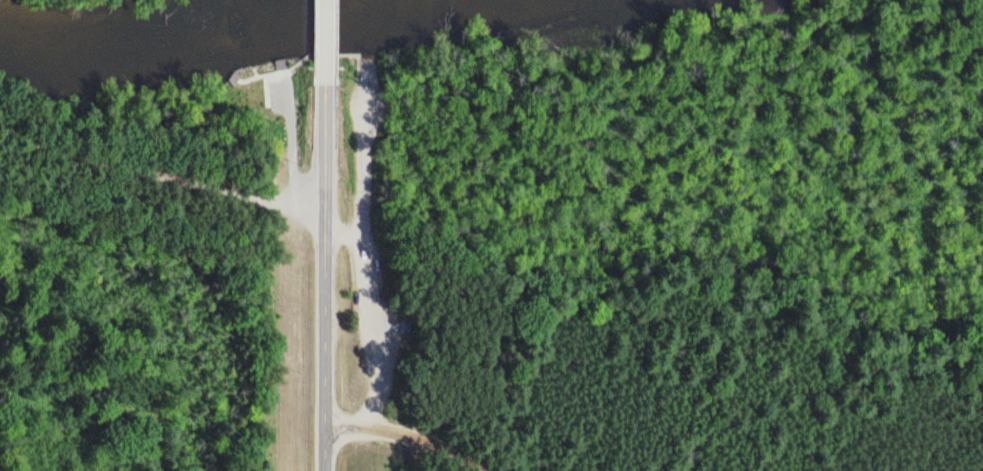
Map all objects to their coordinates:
river: (276, 31)
road: (323, 33)
building: (270, 80)
road: (291, 147)
road: (163, 168)
road: (323, 269)
road: (398, 434)

